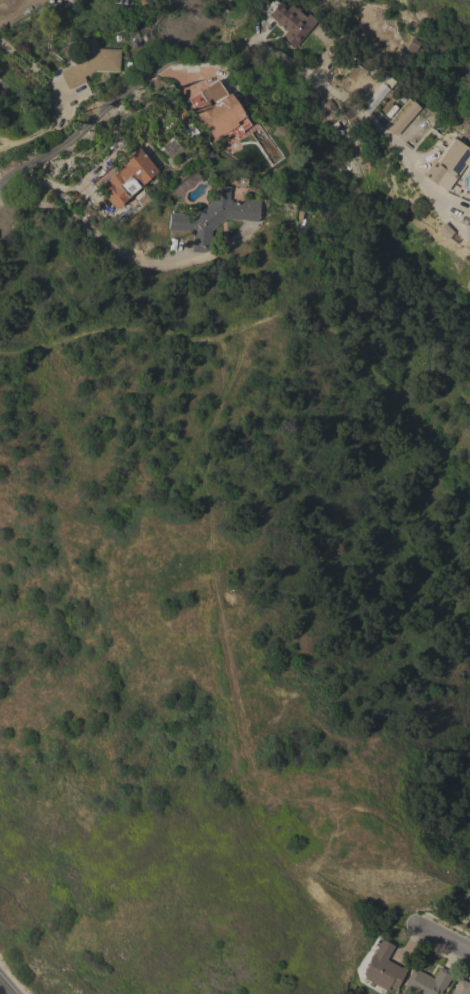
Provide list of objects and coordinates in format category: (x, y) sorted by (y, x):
building: (100, 3)
road: (10, 9)
building: (291, 24)
road: (245, 43)
building: (91, 64)
building: (377, 95)
road: (60, 97)
building: (216, 109)
building: (402, 118)
building: (183, 122)
building: (169, 148)
building: (448, 164)
building: (128, 178)
road: (67, 187)
building: (150, 192)
building: (213, 217)
road: (93, 232)
road: (460, 285)
road: (273, 320)
road: (448, 940)
building: (383, 968)
building: (427, 982)
building: (460, 987)
road: (3, 990)

